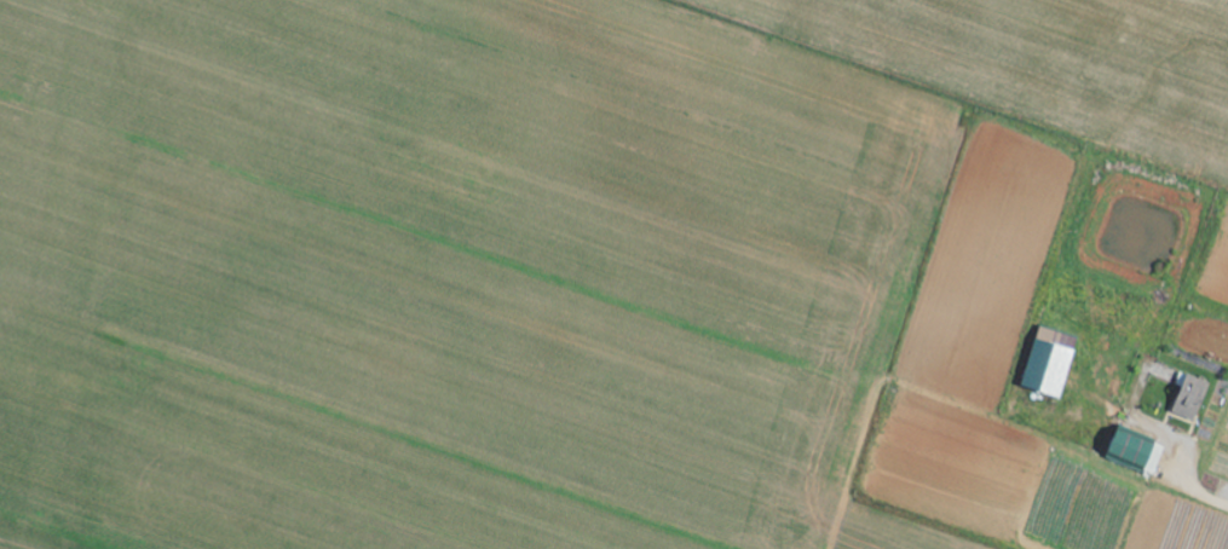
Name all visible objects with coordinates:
building: (1051, 363)
building: (1193, 398)

